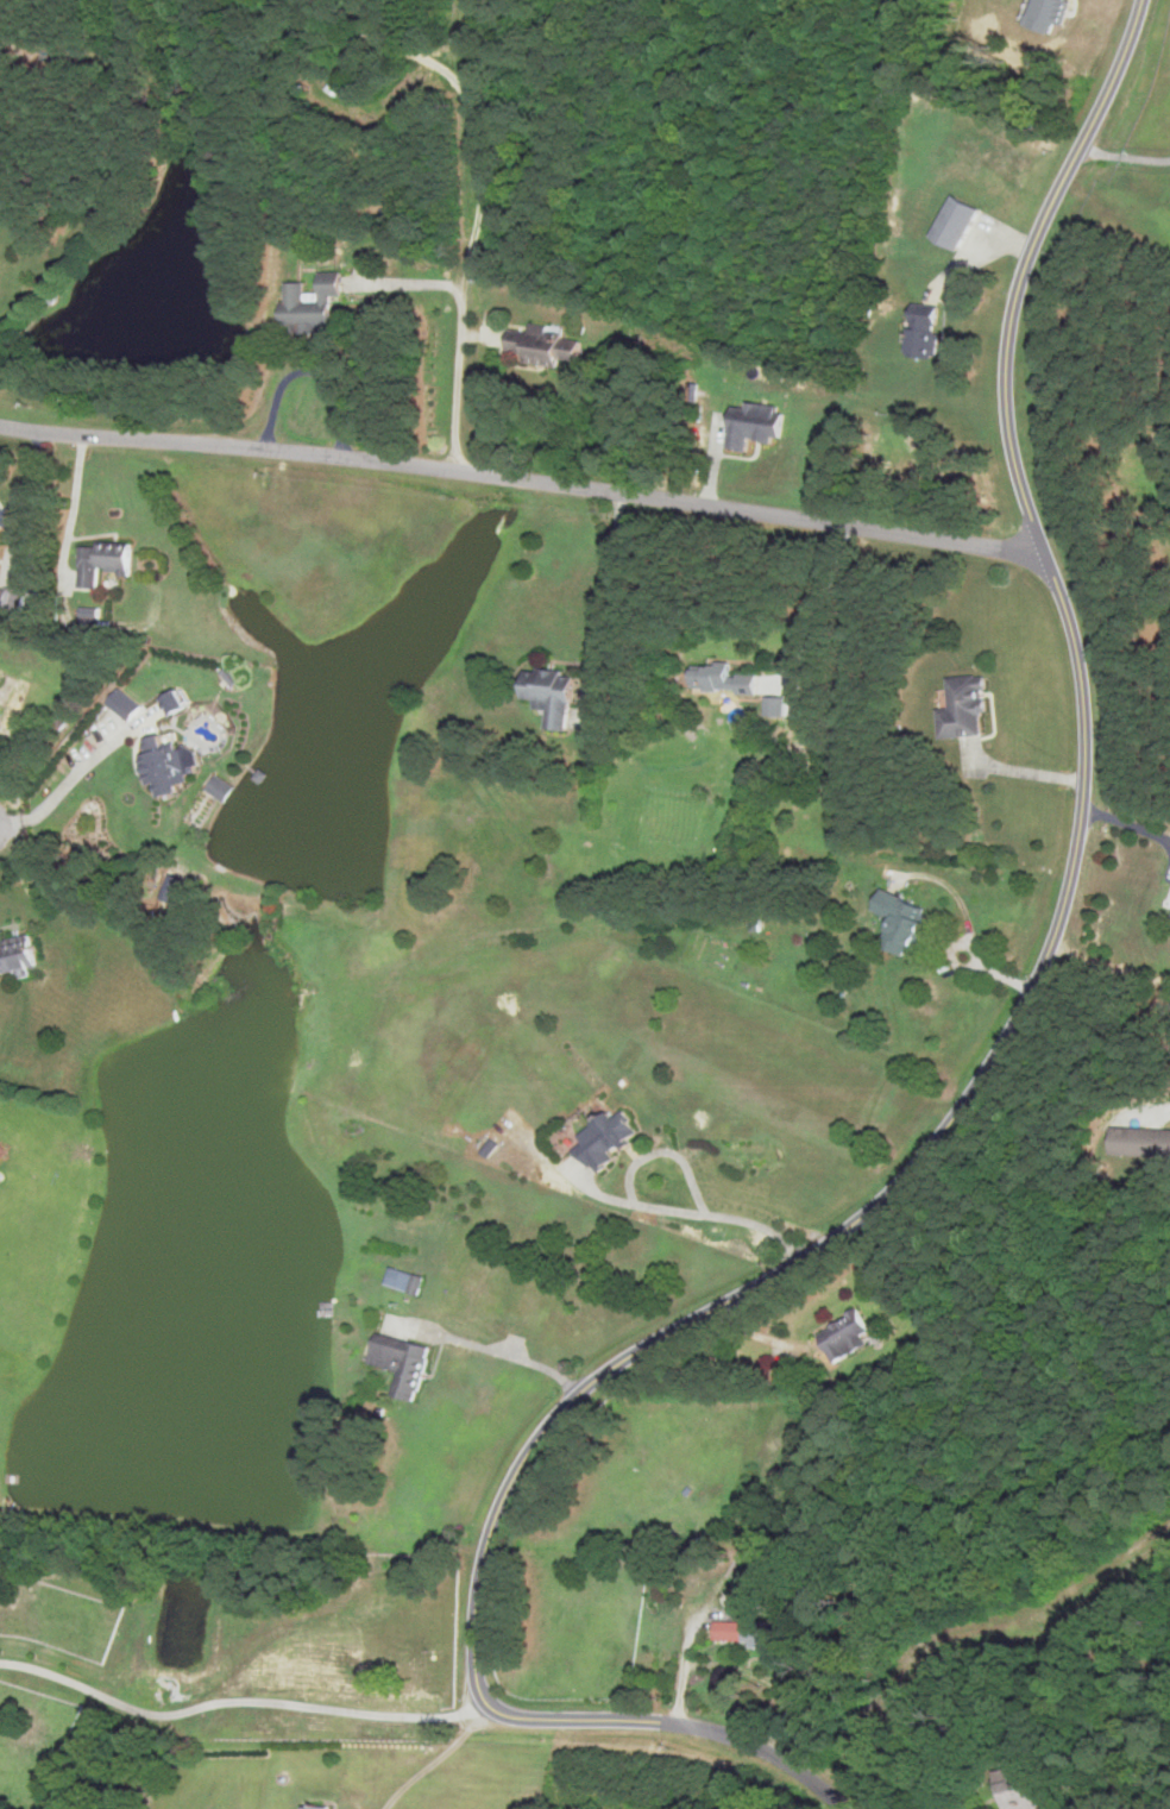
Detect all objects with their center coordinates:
building: (353, 63)
road: (1125, 155)
building: (960, 224)
road: (467, 243)
building: (315, 306)
building: (926, 334)
building: (547, 345)
building: (755, 426)
road: (524, 477)
road: (75, 501)
building: (105, 561)
road: (605, 597)
road: (820, 608)
building: (728, 685)
building: (555, 695)
building: (175, 702)
building: (774, 705)
building: (967, 708)
building: (164, 764)
road: (1025, 772)
road: (62, 780)
road: (1127, 822)
road: (1, 828)
building: (906, 923)
road: (976, 947)
building: (19, 957)
road: (1045, 962)
building: (608, 1139)
building: (0, 1142)
building: (1, 1180)
road: (694, 1216)
building: (404, 1281)
building: (847, 1337)
road: (518, 1359)
building: (404, 1364)
building: (702, 1551)
building: (686, 1553)
building: (722, 1629)
building: (765, 1633)
road: (685, 1665)
road: (765, 1675)
road: (237, 1717)
road: (502, 1721)
road: (692, 1725)
road: (429, 1765)
building: (1017, 1790)
building: (317, 1808)

